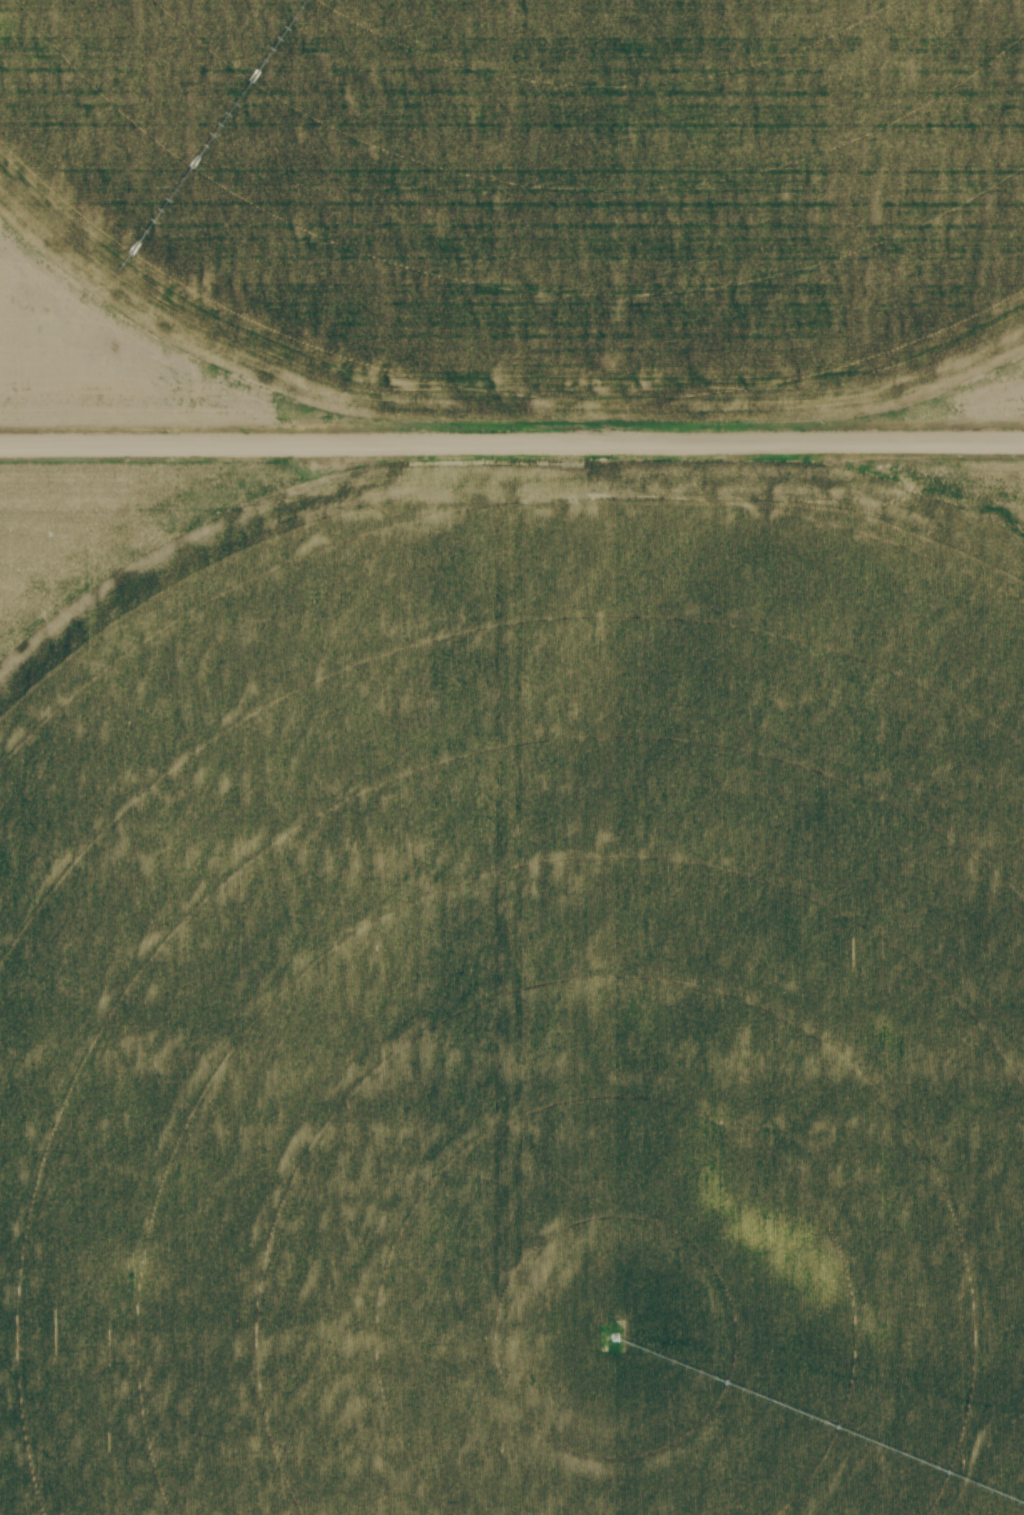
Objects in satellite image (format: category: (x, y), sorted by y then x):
road: (511, 447)

